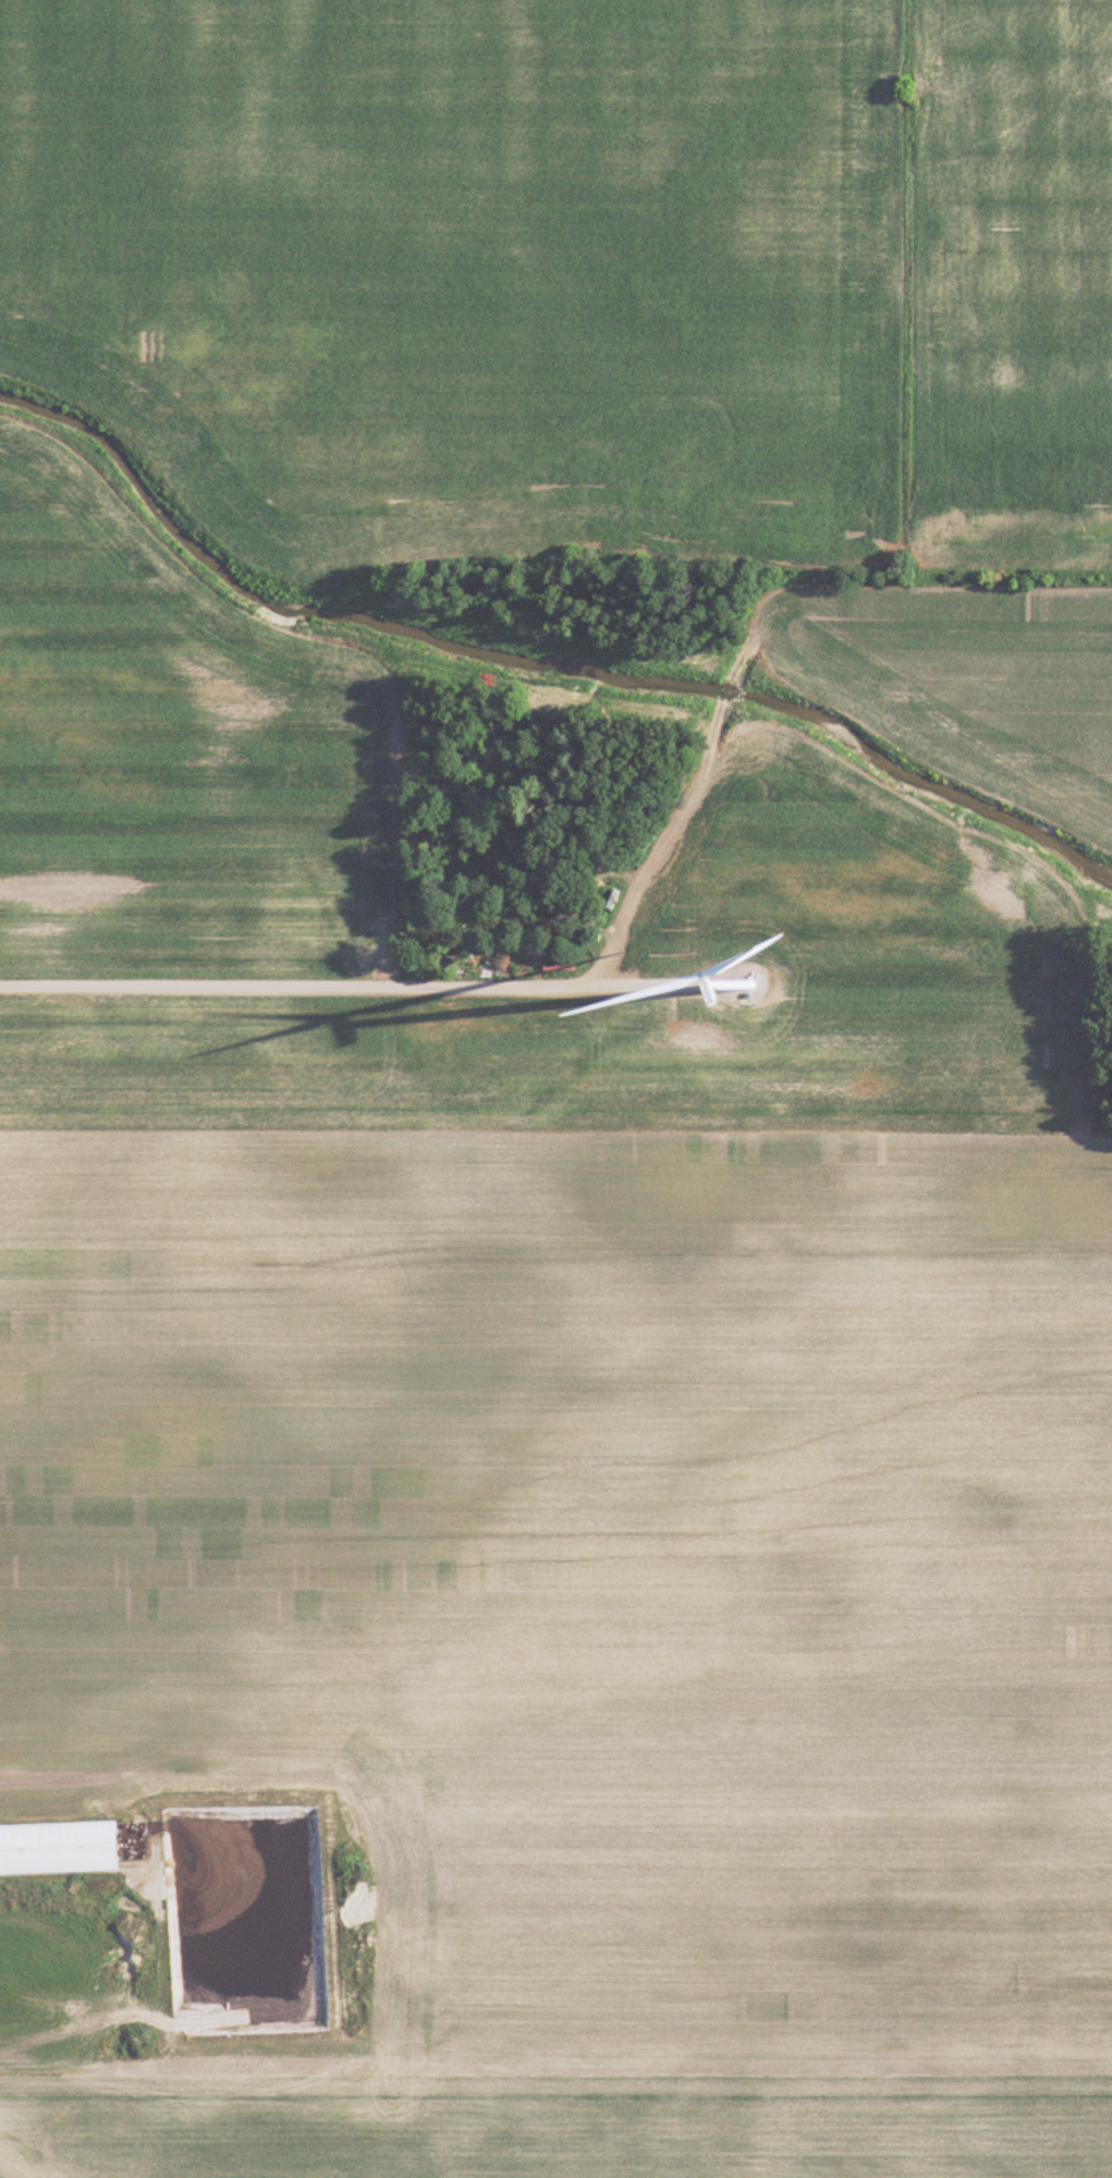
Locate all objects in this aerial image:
river: (535, 663)
wind turbine: (756, 986)
road: (346, 987)
building: (57, 1849)

